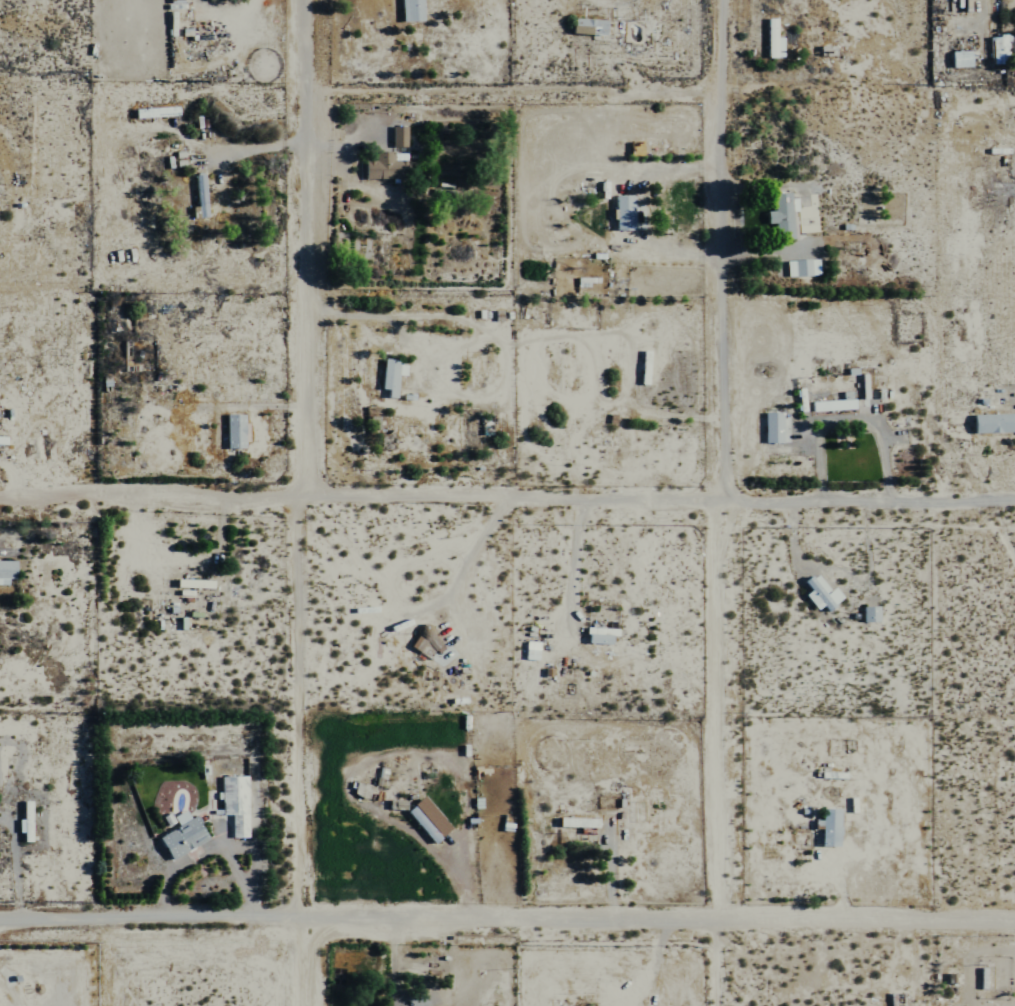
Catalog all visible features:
road: (235, 11)
road: (253, 146)
road: (846, 421)
road: (721, 502)
road: (308, 503)
road: (507, 506)
road: (507, 926)
road: (414, 968)

